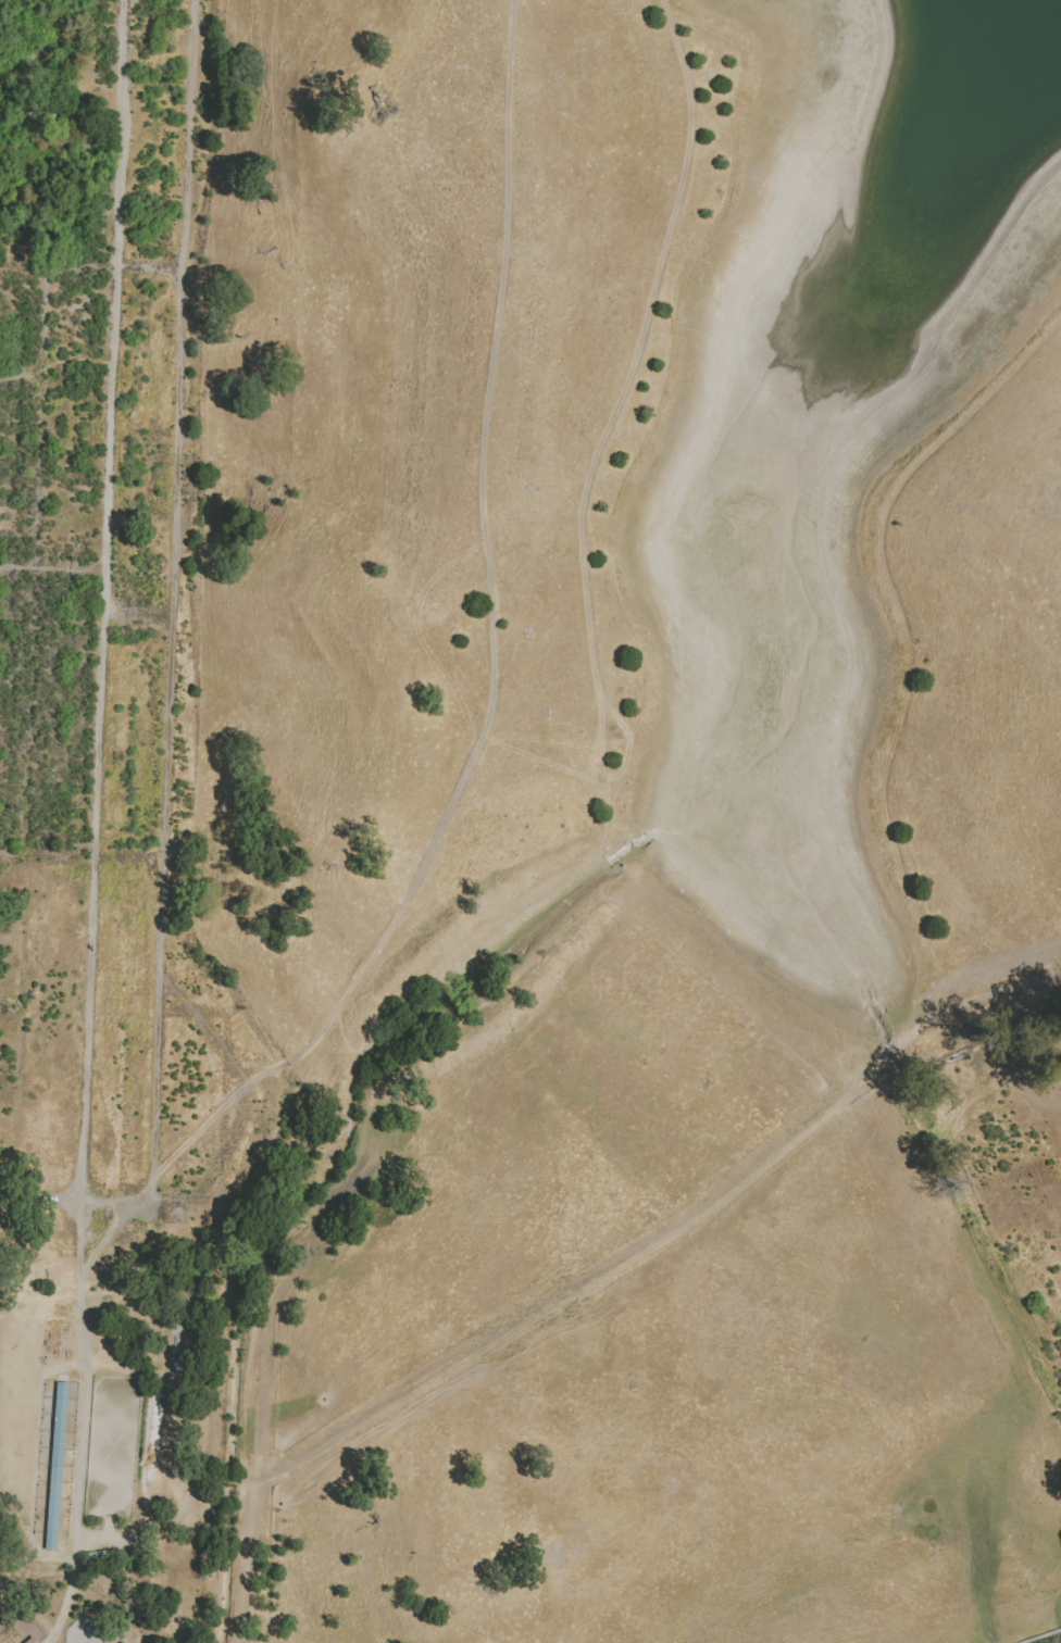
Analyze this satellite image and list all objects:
road: (171, 635)
crop: (118, 647)
road: (489, 653)
road: (631, 753)
road: (95, 825)
road: (810, 1014)
building: (8, 1593)
park: (3, 1626)
building: (34, 1642)

